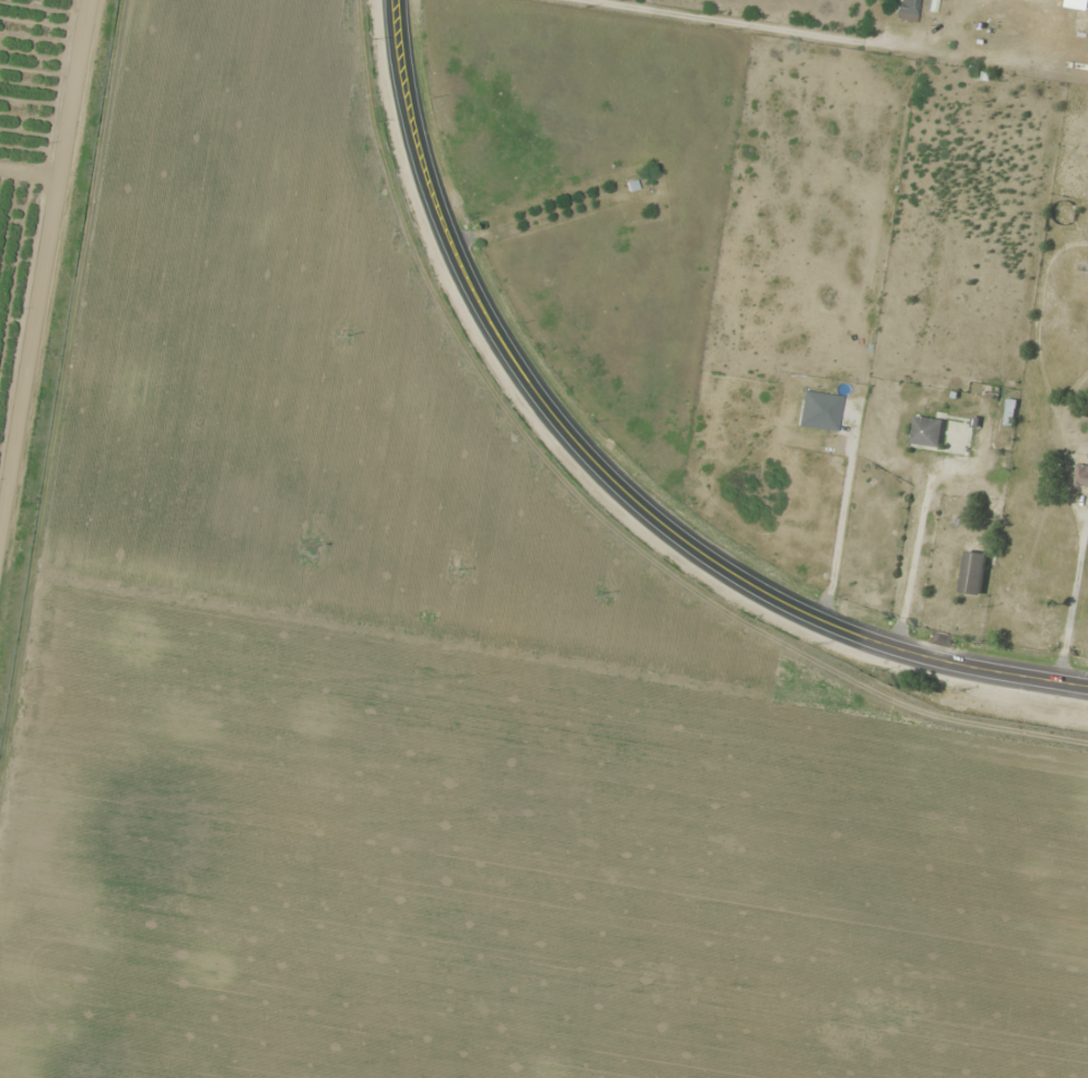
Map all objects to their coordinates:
building: (905, 8)
road: (51, 225)
building: (926, 431)
building: (1081, 443)
road: (607, 477)
road: (8, 500)
building: (971, 572)

